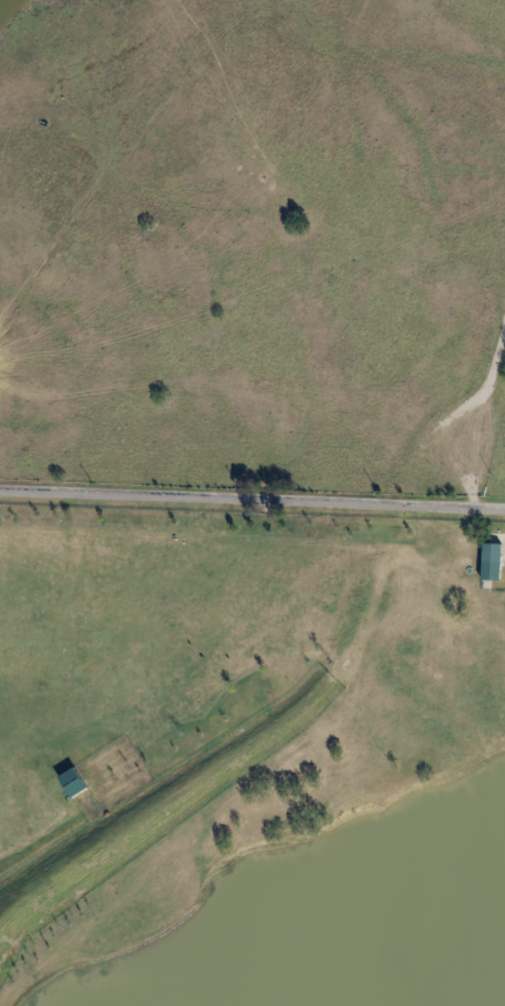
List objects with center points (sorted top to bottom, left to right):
road: (252, 498)
building: (494, 561)

